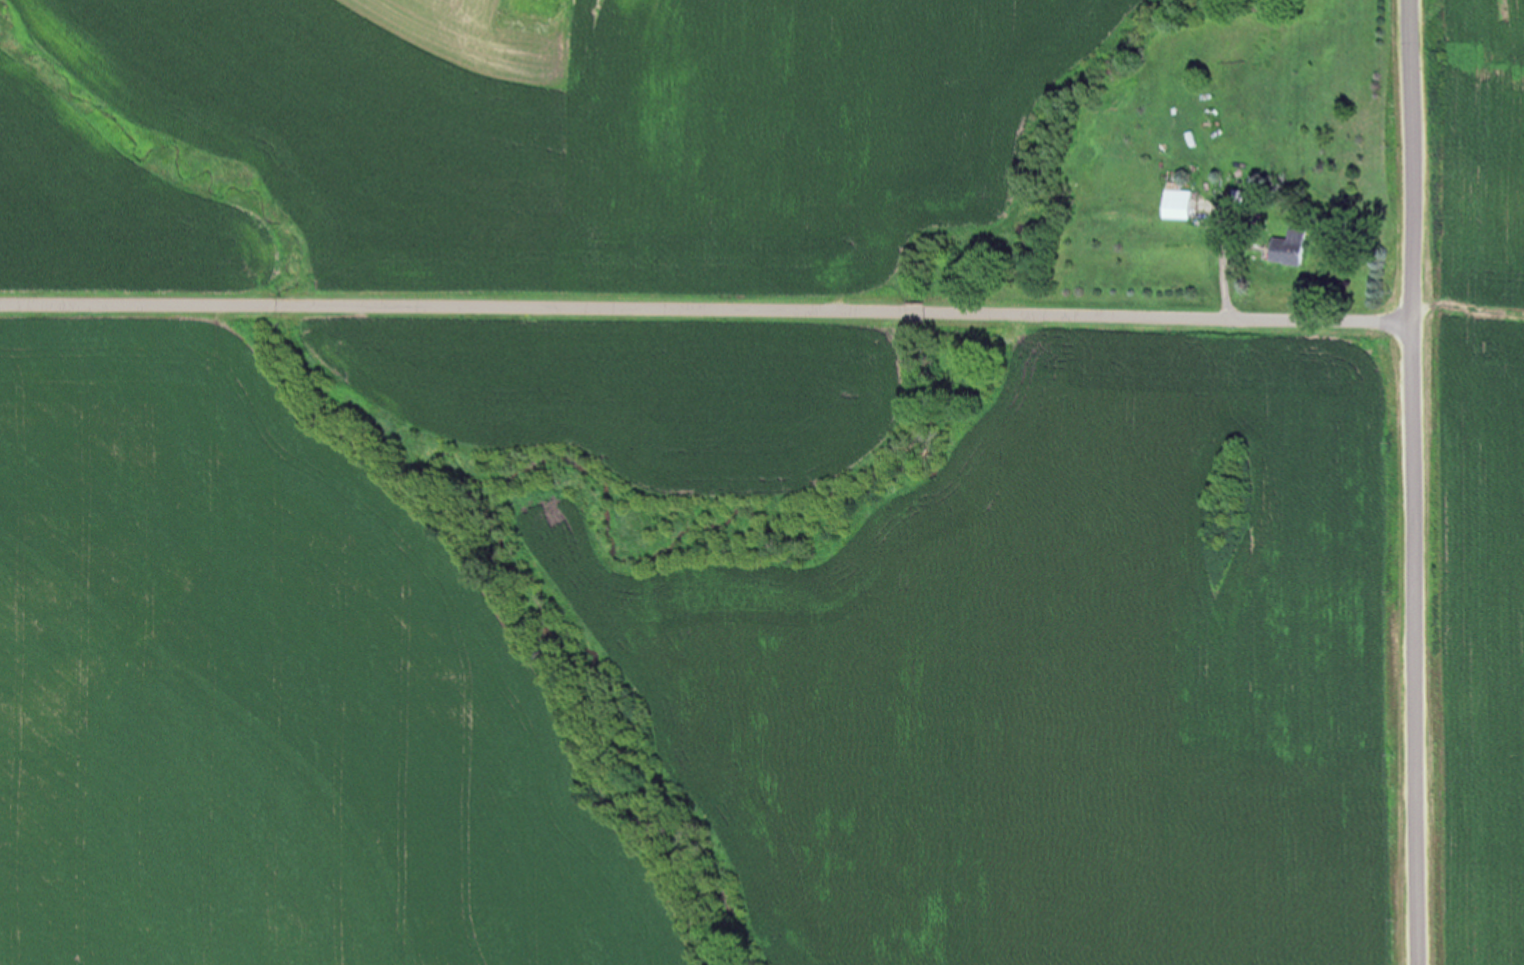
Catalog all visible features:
building: (1172, 202)
building: (1284, 248)
road: (706, 309)
road: (1413, 482)

